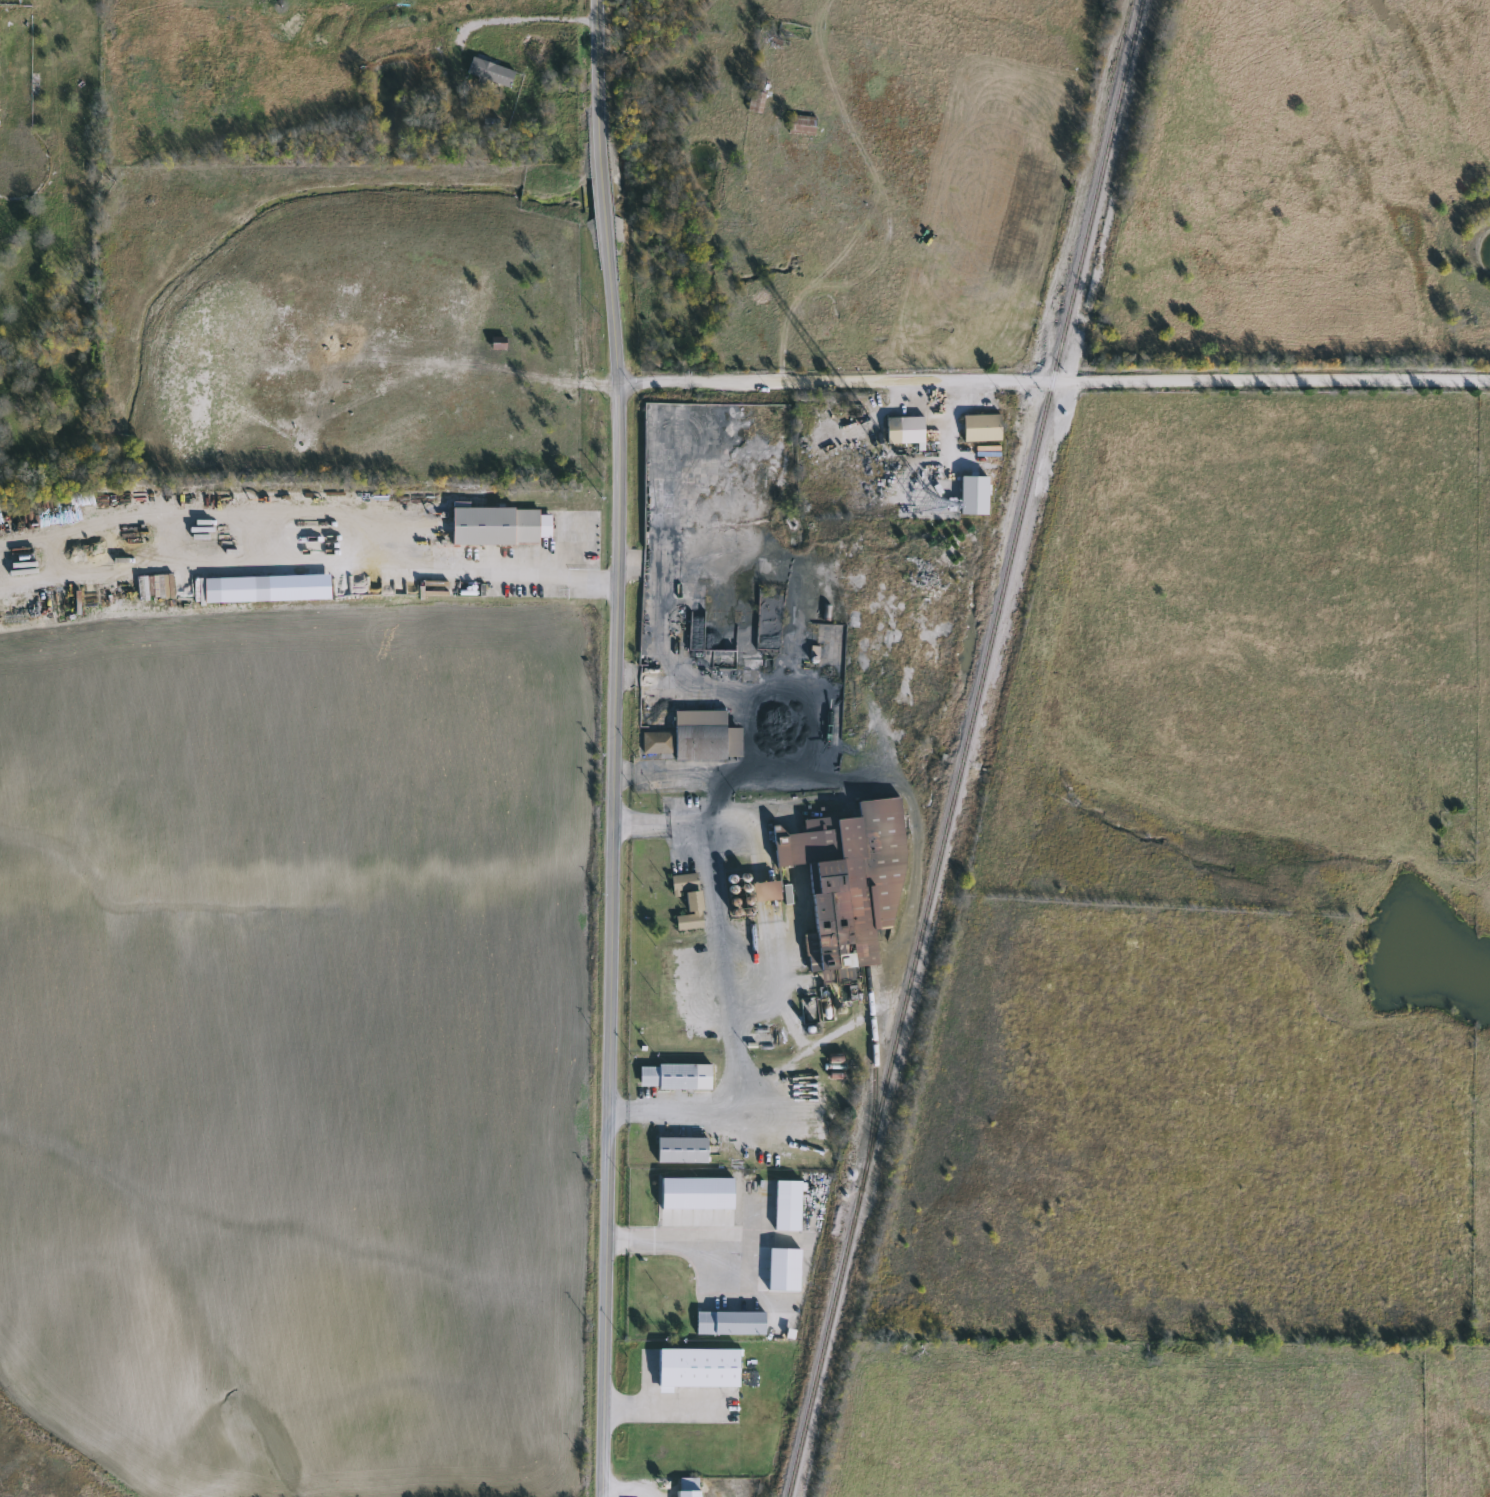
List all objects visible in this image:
road: (519, 19)
building: (488, 72)
building: (755, 101)
road: (1050, 383)
building: (980, 428)
building: (903, 430)
building: (498, 526)
building: (203, 543)
road: (305, 563)
building: (695, 737)
road: (610, 748)
railway: (965, 748)
road: (651, 772)
building: (847, 884)
building: (764, 890)
building: (687, 899)
road: (714, 930)
railway: (872, 1041)
building: (673, 1076)
road: (687, 1108)
building: (680, 1149)
building: (786, 1205)
road: (700, 1245)
building: (729, 1323)
building: (696, 1367)
road: (666, 1408)
building: (687, 1487)

